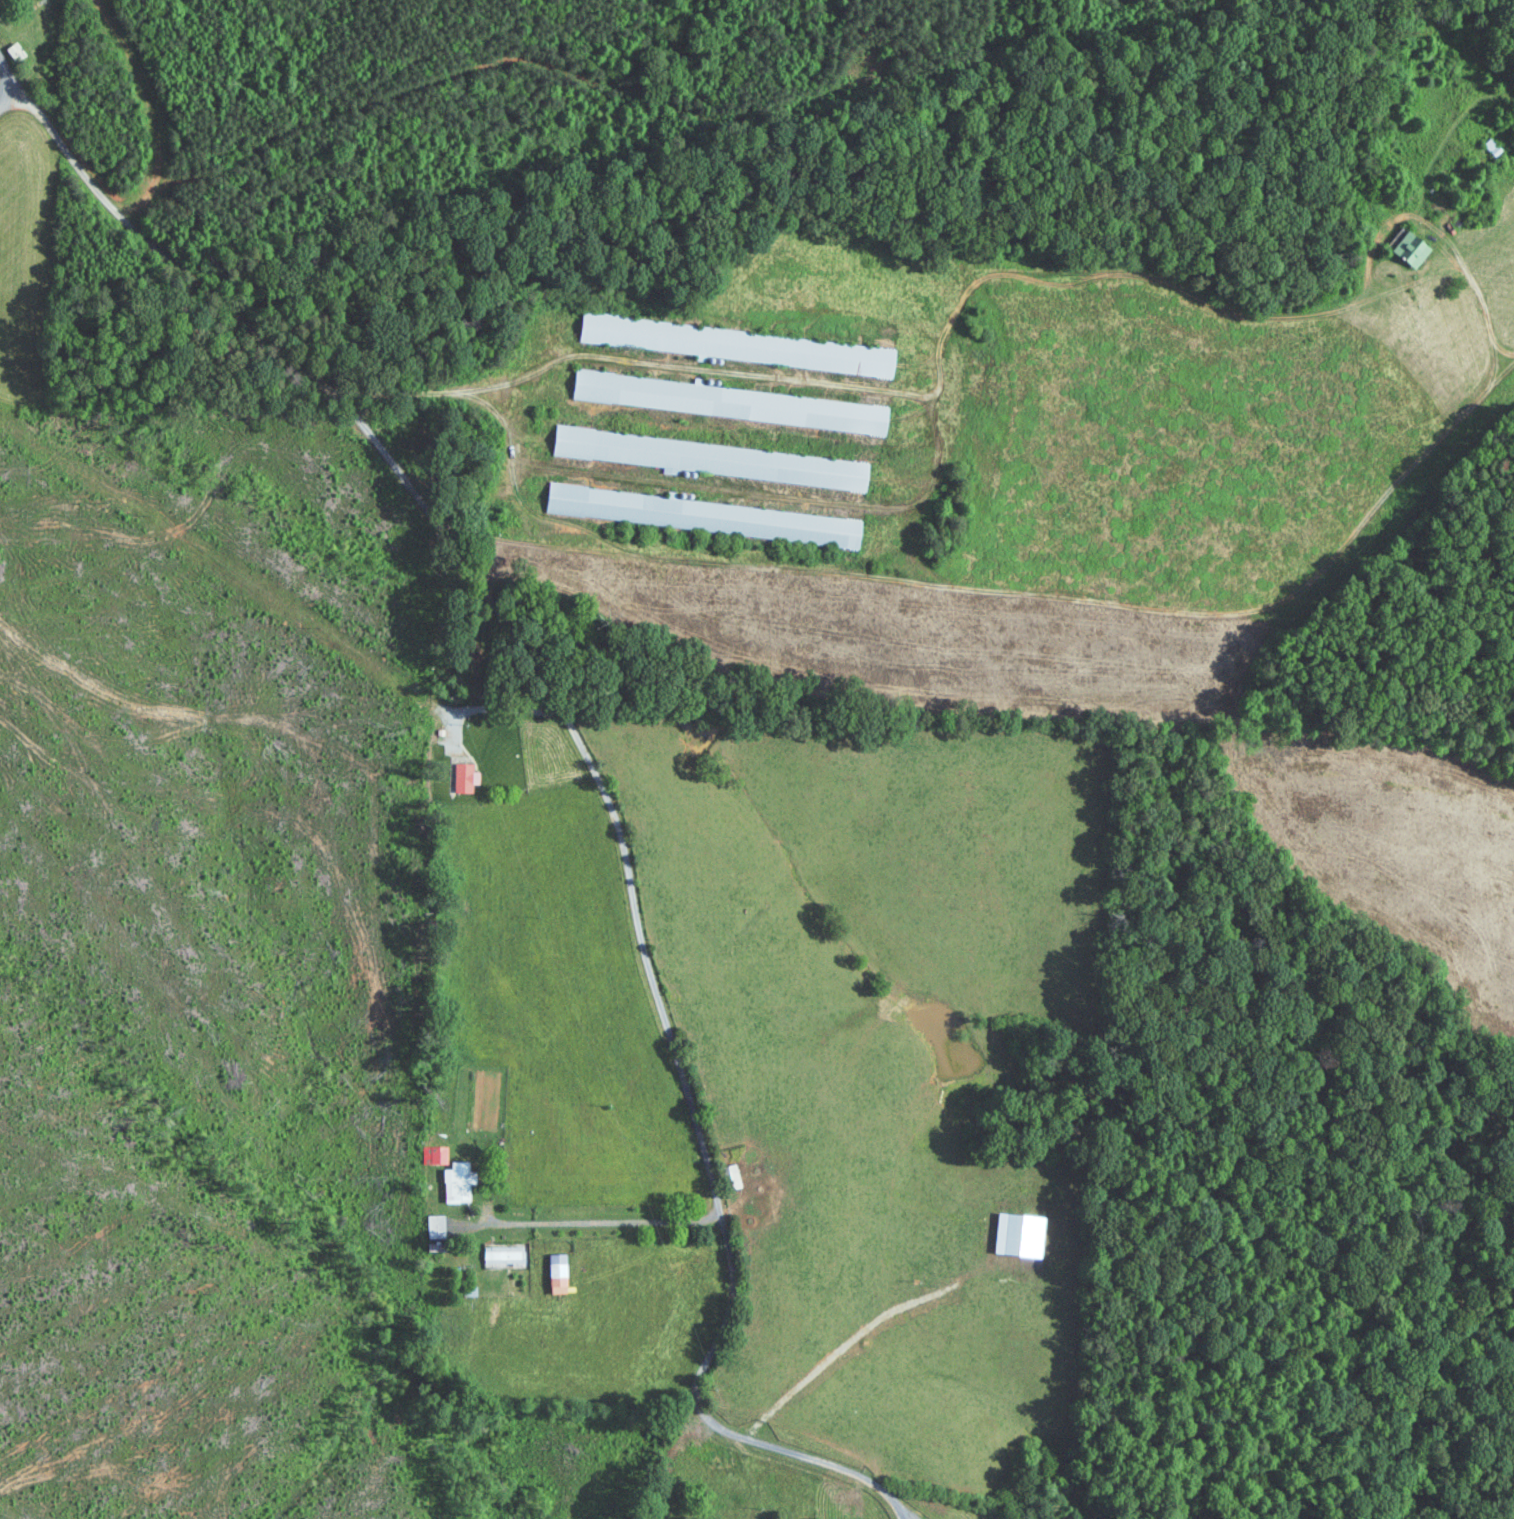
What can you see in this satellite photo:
road: (151, 103)
building: (1416, 244)
building: (710, 515)
road: (496, 708)
road: (581, 744)
building: (468, 777)
building: (437, 1154)
building: (462, 1182)
road: (584, 1221)
building: (438, 1226)
building: (505, 1253)
building: (562, 1273)
road: (906, 1507)

